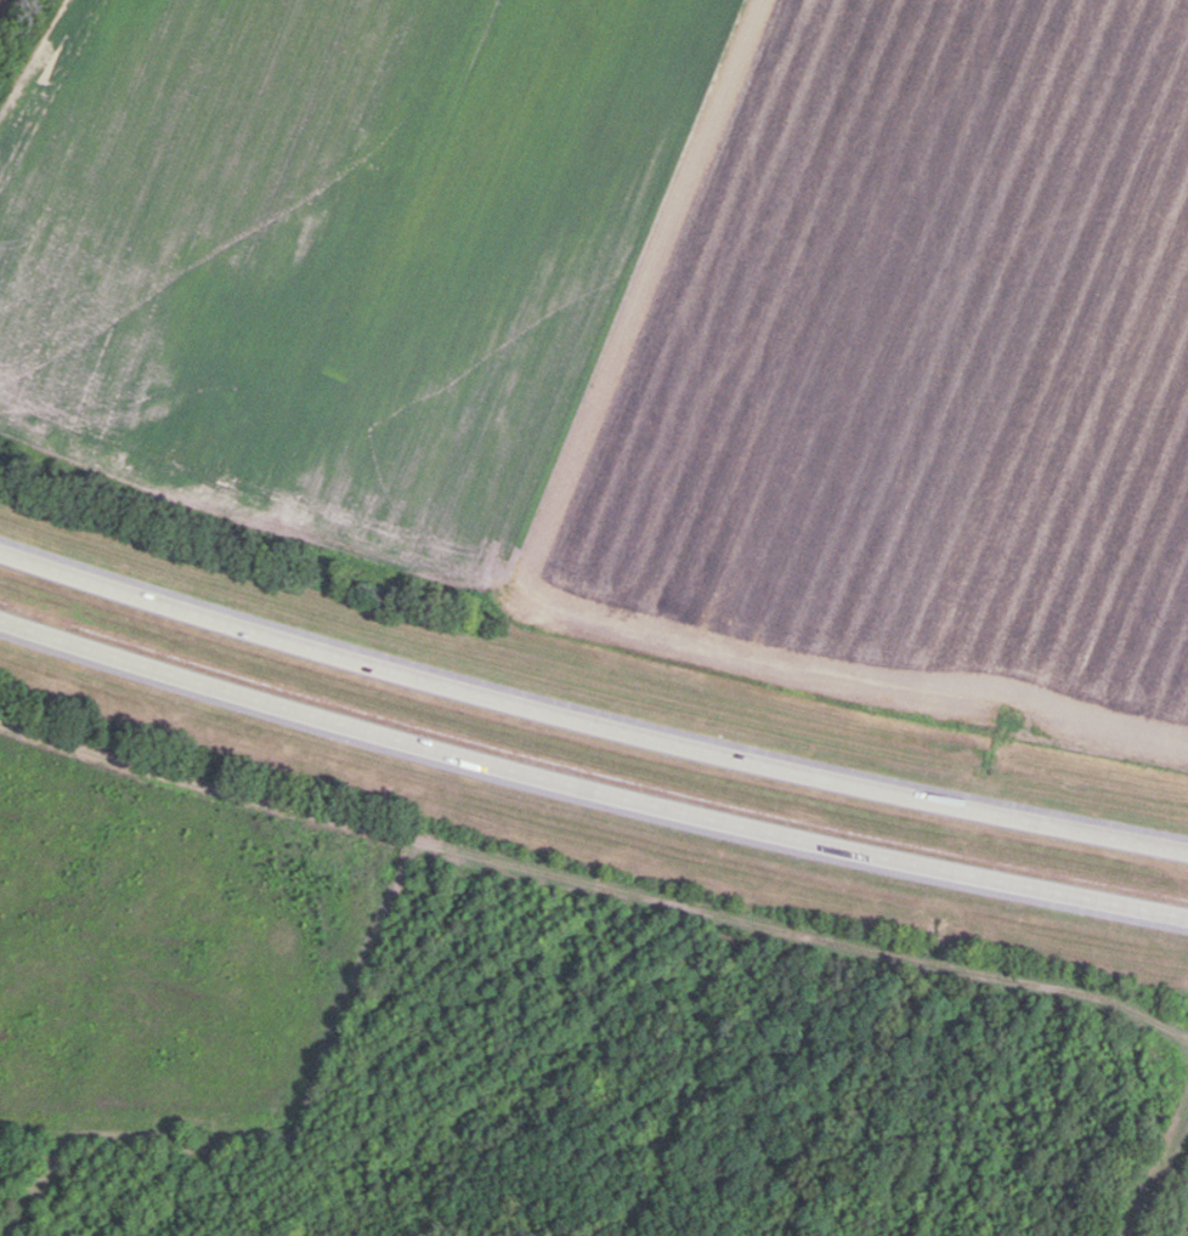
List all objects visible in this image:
road: (588, 720)
road: (587, 794)
road: (595, 878)
road: (1160, 1170)

